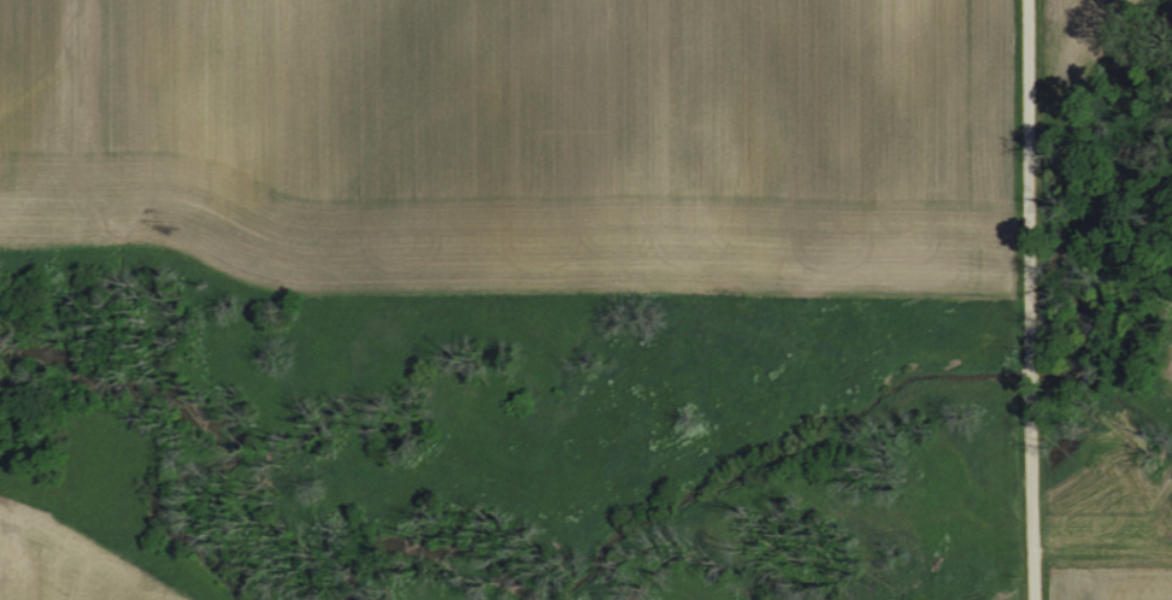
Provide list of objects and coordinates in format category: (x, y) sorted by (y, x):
road: (1015, 173)
road: (1018, 372)
road: (1020, 498)

